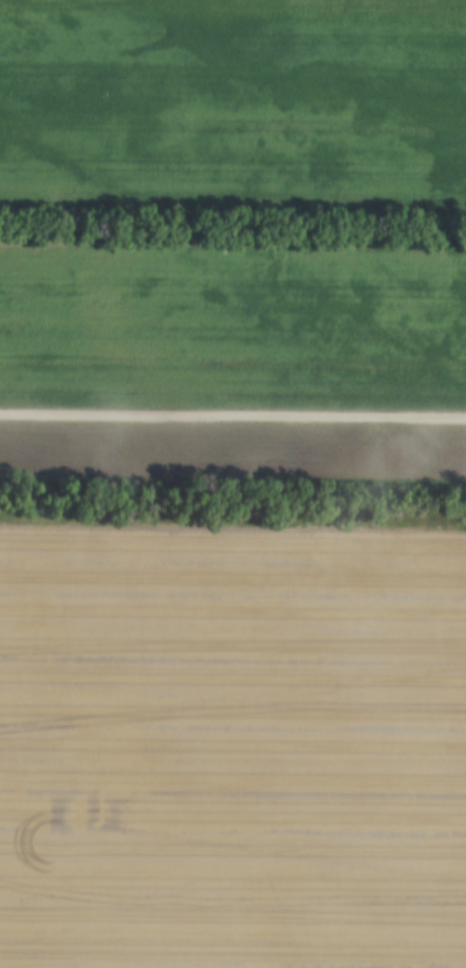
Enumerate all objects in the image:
road: (233, 415)

